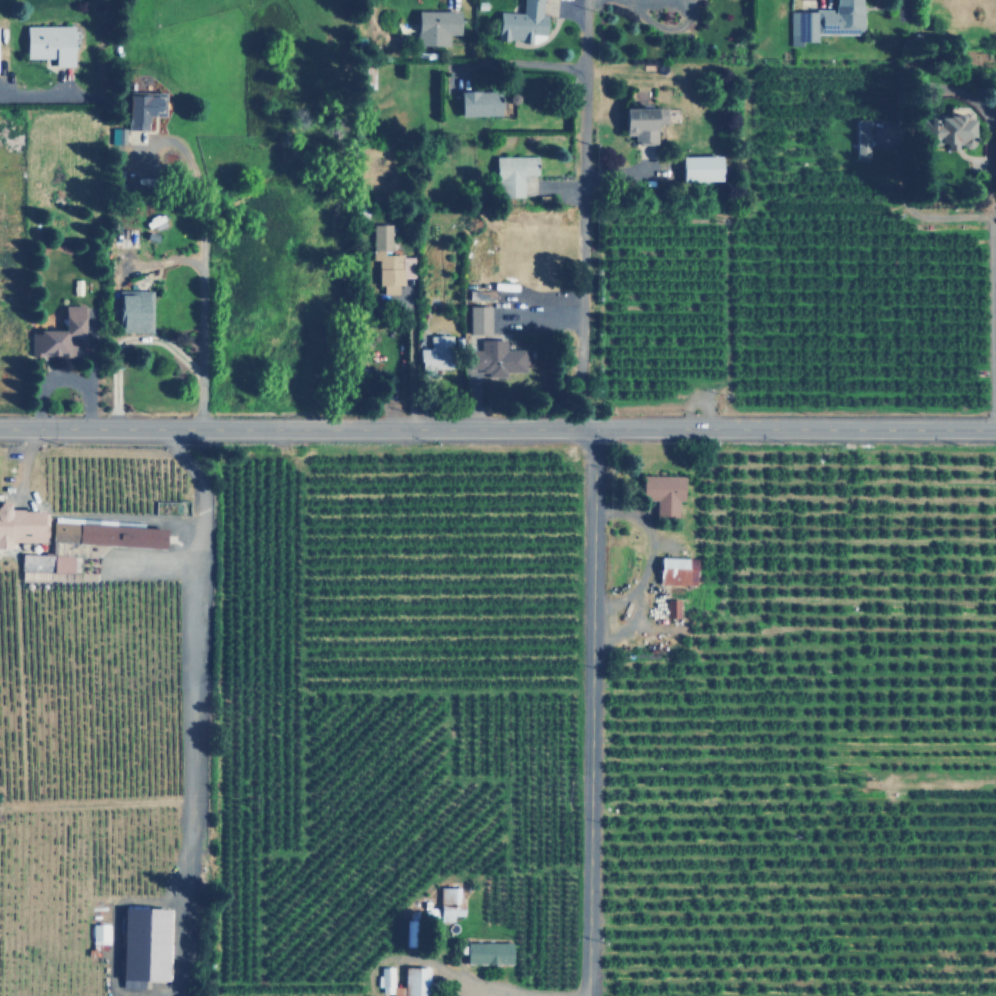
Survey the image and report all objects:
road: (896, 9)
building: (822, 21)
building: (519, 23)
building: (439, 26)
building: (53, 43)
building: (0, 68)
road: (37, 96)
building: (484, 103)
building: (147, 109)
building: (636, 123)
building: (942, 130)
building: (119, 135)
building: (863, 138)
building: (705, 167)
building: (516, 173)
road: (575, 217)
building: (388, 258)
road: (203, 262)
building: (137, 310)
building: (481, 320)
road: (995, 322)
building: (64, 335)
road: (125, 340)
building: (438, 353)
building: (499, 358)
road: (497, 429)
building: (659, 493)
building: (23, 524)
building: (111, 533)
road: (642, 554)
building: (48, 562)
building: (674, 570)
building: (670, 607)
road: (587, 712)
building: (448, 901)
building: (101, 933)
building: (147, 944)
building: (485, 952)
building: (403, 981)

